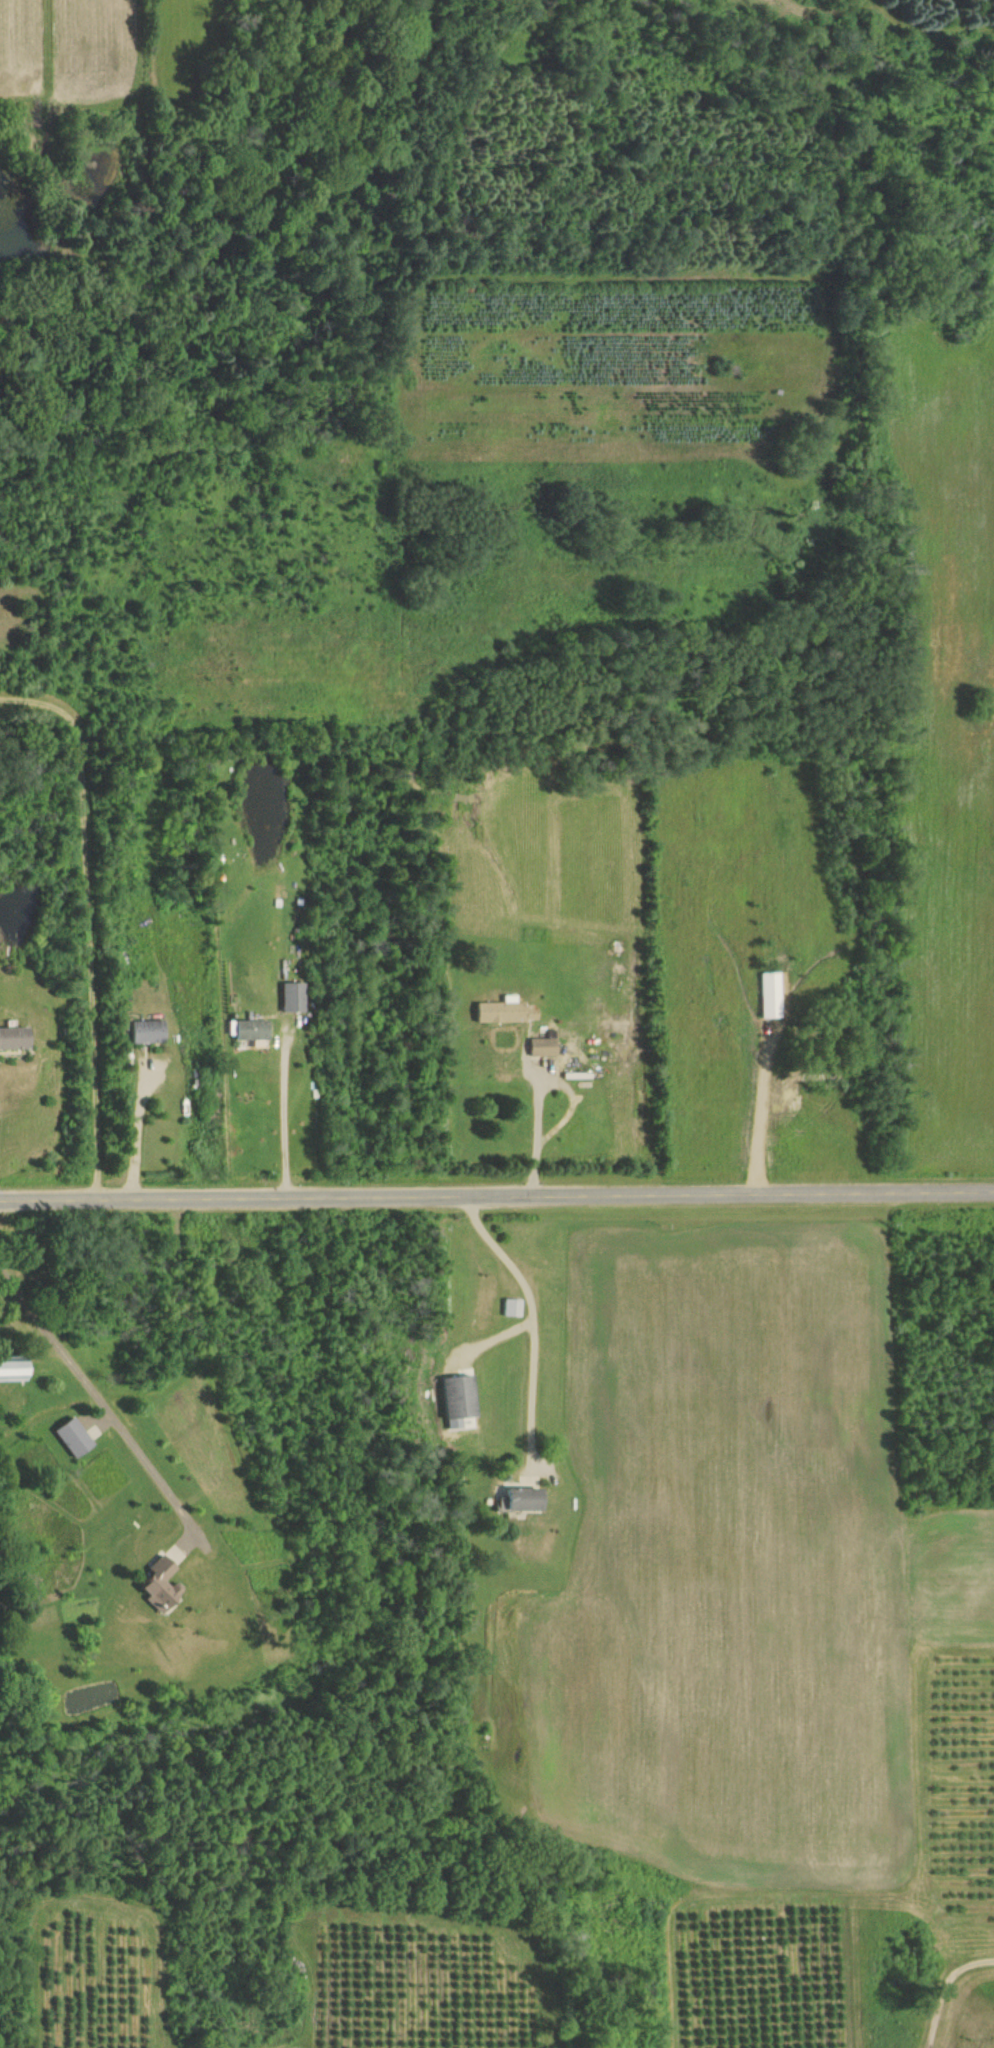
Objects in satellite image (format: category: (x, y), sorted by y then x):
road: (90, 915)
building: (770, 994)
building: (292, 997)
building: (505, 1011)
building: (250, 1029)
building: (146, 1031)
building: (14, 1037)
building: (543, 1046)
road: (541, 1086)
road: (756, 1106)
road: (288, 1132)
road: (138, 1144)
road: (497, 1195)
building: (512, 1307)
road: (530, 1326)
road: (499, 1331)
building: (14, 1369)
building: (457, 1393)
road: (99, 1402)
building: (72, 1433)
building: (519, 1495)
crop: (717, 1552)
crop: (961, 1573)
building: (157, 1579)
crop: (959, 1779)
crop: (760, 1973)
crop: (94, 1976)
crop: (422, 1984)

